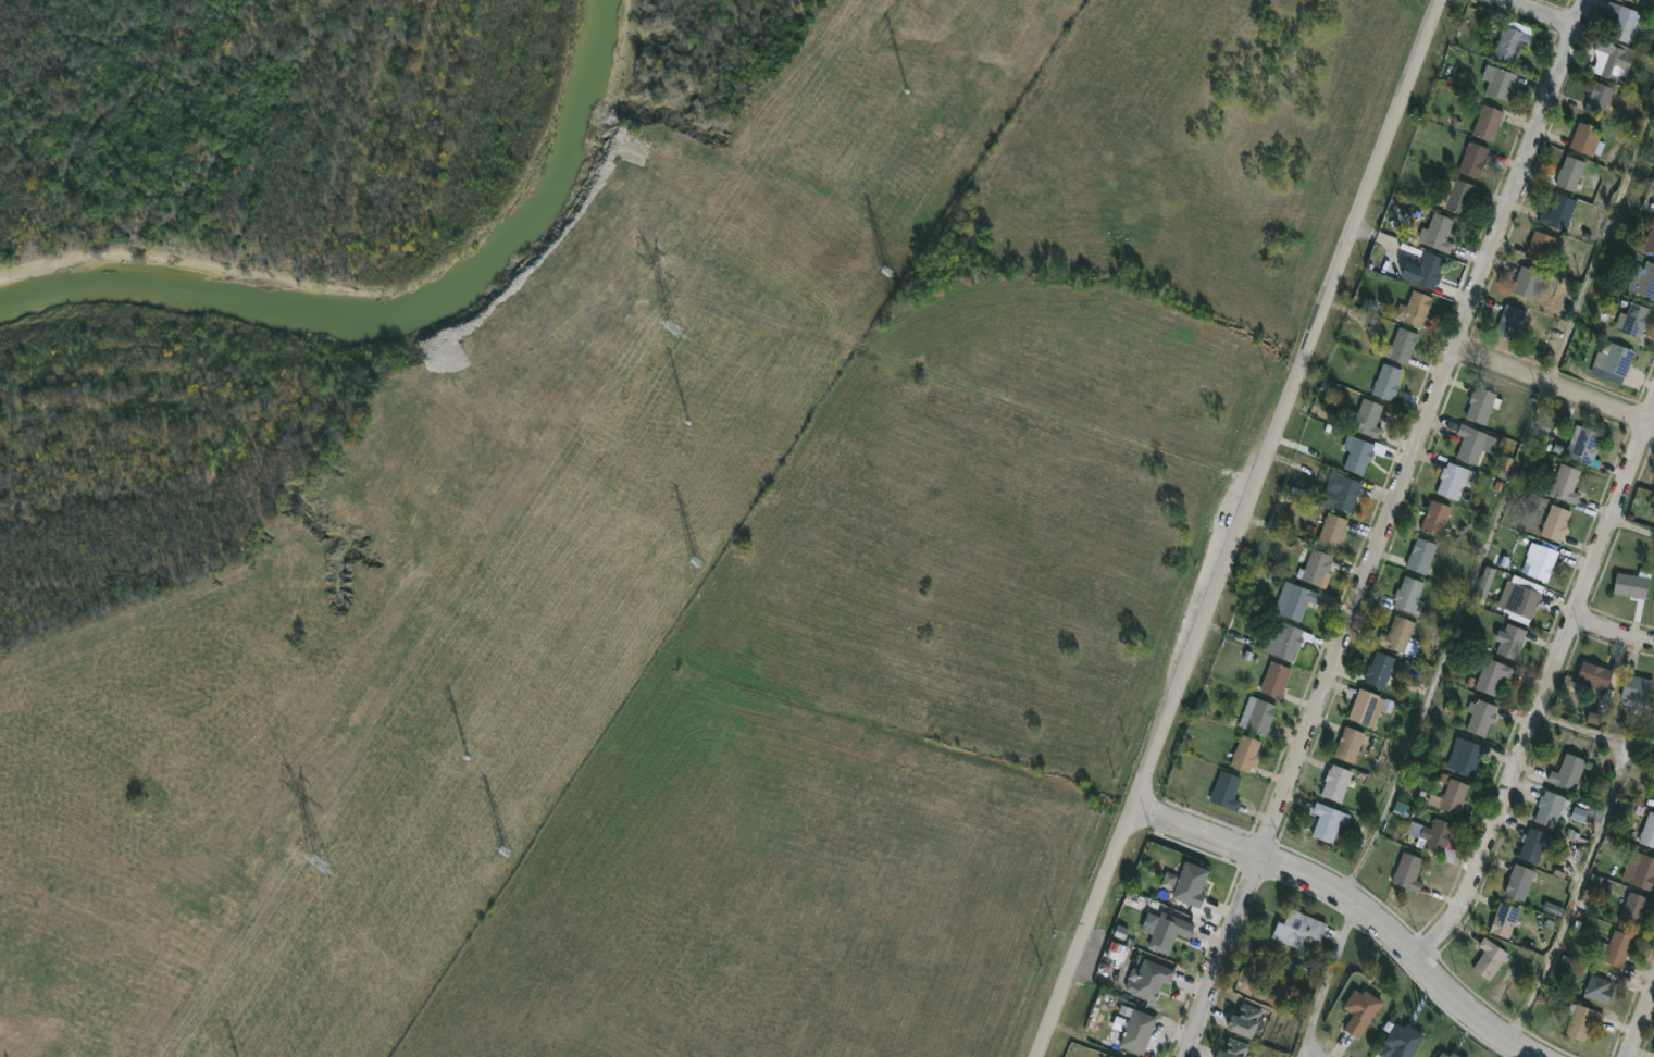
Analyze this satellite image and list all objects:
building: (1645, 1)
road: (1537, 15)
building: (1625, 22)
building: (1512, 39)
building: (1613, 57)
building: (1498, 80)
power tower: (909, 91)
building: (1600, 98)
building: (1488, 122)
building: (1588, 138)
building: (1472, 159)
building: (1568, 173)
building: (1458, 194)
building: (1558, 211)
building: (1437, 232)
building: (1650, 237)
building: (1541, 246)
building: (1423, 266)
power tower: (894, 272)
building: (1643, 279)
building: (1529, 282)
building: (1414, 309)
building: (1632, 319)
building: (1509, 321)
power tower: (673, 325)
building: (1402, 344)
building: (1614, 358)
building: (1386, 382)
road: (1554, 383)
road: (1290, 403)
building: (1480, 405)
building: (1365, 419)
power tower: (688, 423)
building: (1475, 442)
building: (1583, 445)
building: (1359, 452)
building: (1454, 478)
building: (1566, 483)
building: (1342, 490)
road: (1506, 502)
building: (1435, 518)
building: (1555, 522)
road: (1385, 527)
road: (1633, 527)
building: (1332, 530)
building: (1421, 555)
building: (1542, 559)
power tower: (697, 567)
building: (1315, 567)
building: (1632, 583)
building: (1409, 594)
building: (1524, 599)
building: (1293, 600)
road: (1614, 631)
building: (1398, 635)
building: (1286, 639)
building: (1512, 641)
building: (1379, 670)
building: (1594, 674)
building: (1492, 675)
building: (1274, 679)
building: (1636, 688)
road: (1547, 692)
building: (1368, 707)
building: (1260, 717)
building: (1480, 717)
road: (1594, 738)
building: (1348, 744)
building: (1245, 751)
building: (1466, 755)
power tower: (468, 756)
building: (1568, 771)
building: (1335, 782)
building: (1226, 791)
building: (1454, 796)
building: (1550, 808)
building: (1326, 821)
building: (1647, 831)
building: (1438, 840)
power tower: (325, 842)
building: (1532, 845)
power tower: (509, 850)
building: (1640, 870)
building: (1408, 871)
building: (1518, 882)
building: (1190, 884)
building: (1592, 888)
park: (772, 895)
road: (1579, 897)
road: (1356, 900)
building: (1633, 908)
building: (1505, 919)
building: (1297, 929)
building: (1168, 931)
road: (1085, 932)
building: (1617, 948)
building: (1489, 958)
building: (1147, 979)
road: (1336, 982)
building: (1597, 988)
building: (1359, 1011)
building: (1245, 1019)
building: (1581, 1019)
road: (1642, 1025)
building: (1137, 1030)
building: (1402, 1040)
building: (1232, 1048)
building: (1447, 1054)
building: (1110, 1056)
building: (1115, 1056)

